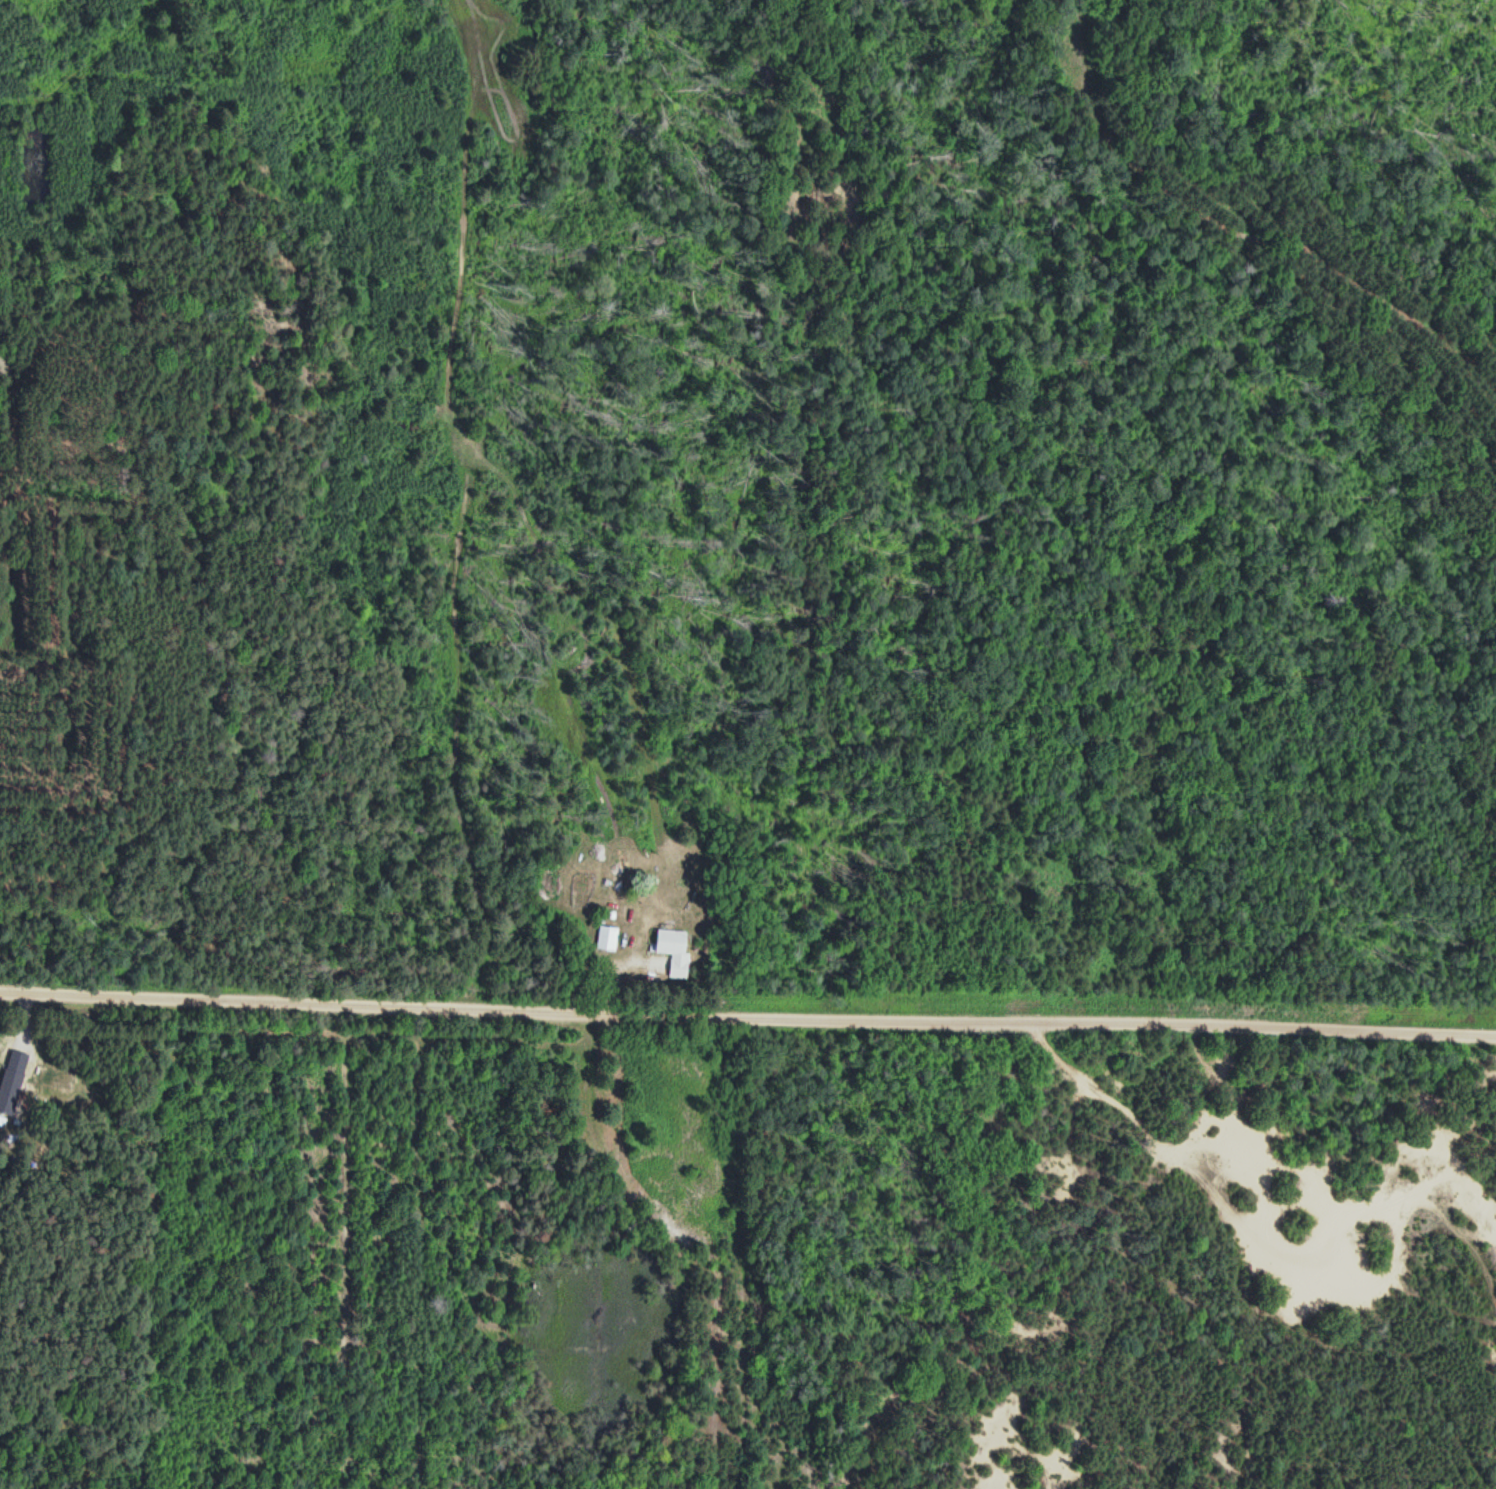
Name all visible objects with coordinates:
building: (605, 937)
building: (672, 949)
road: (748, 1003)
building: (15, 1090)

